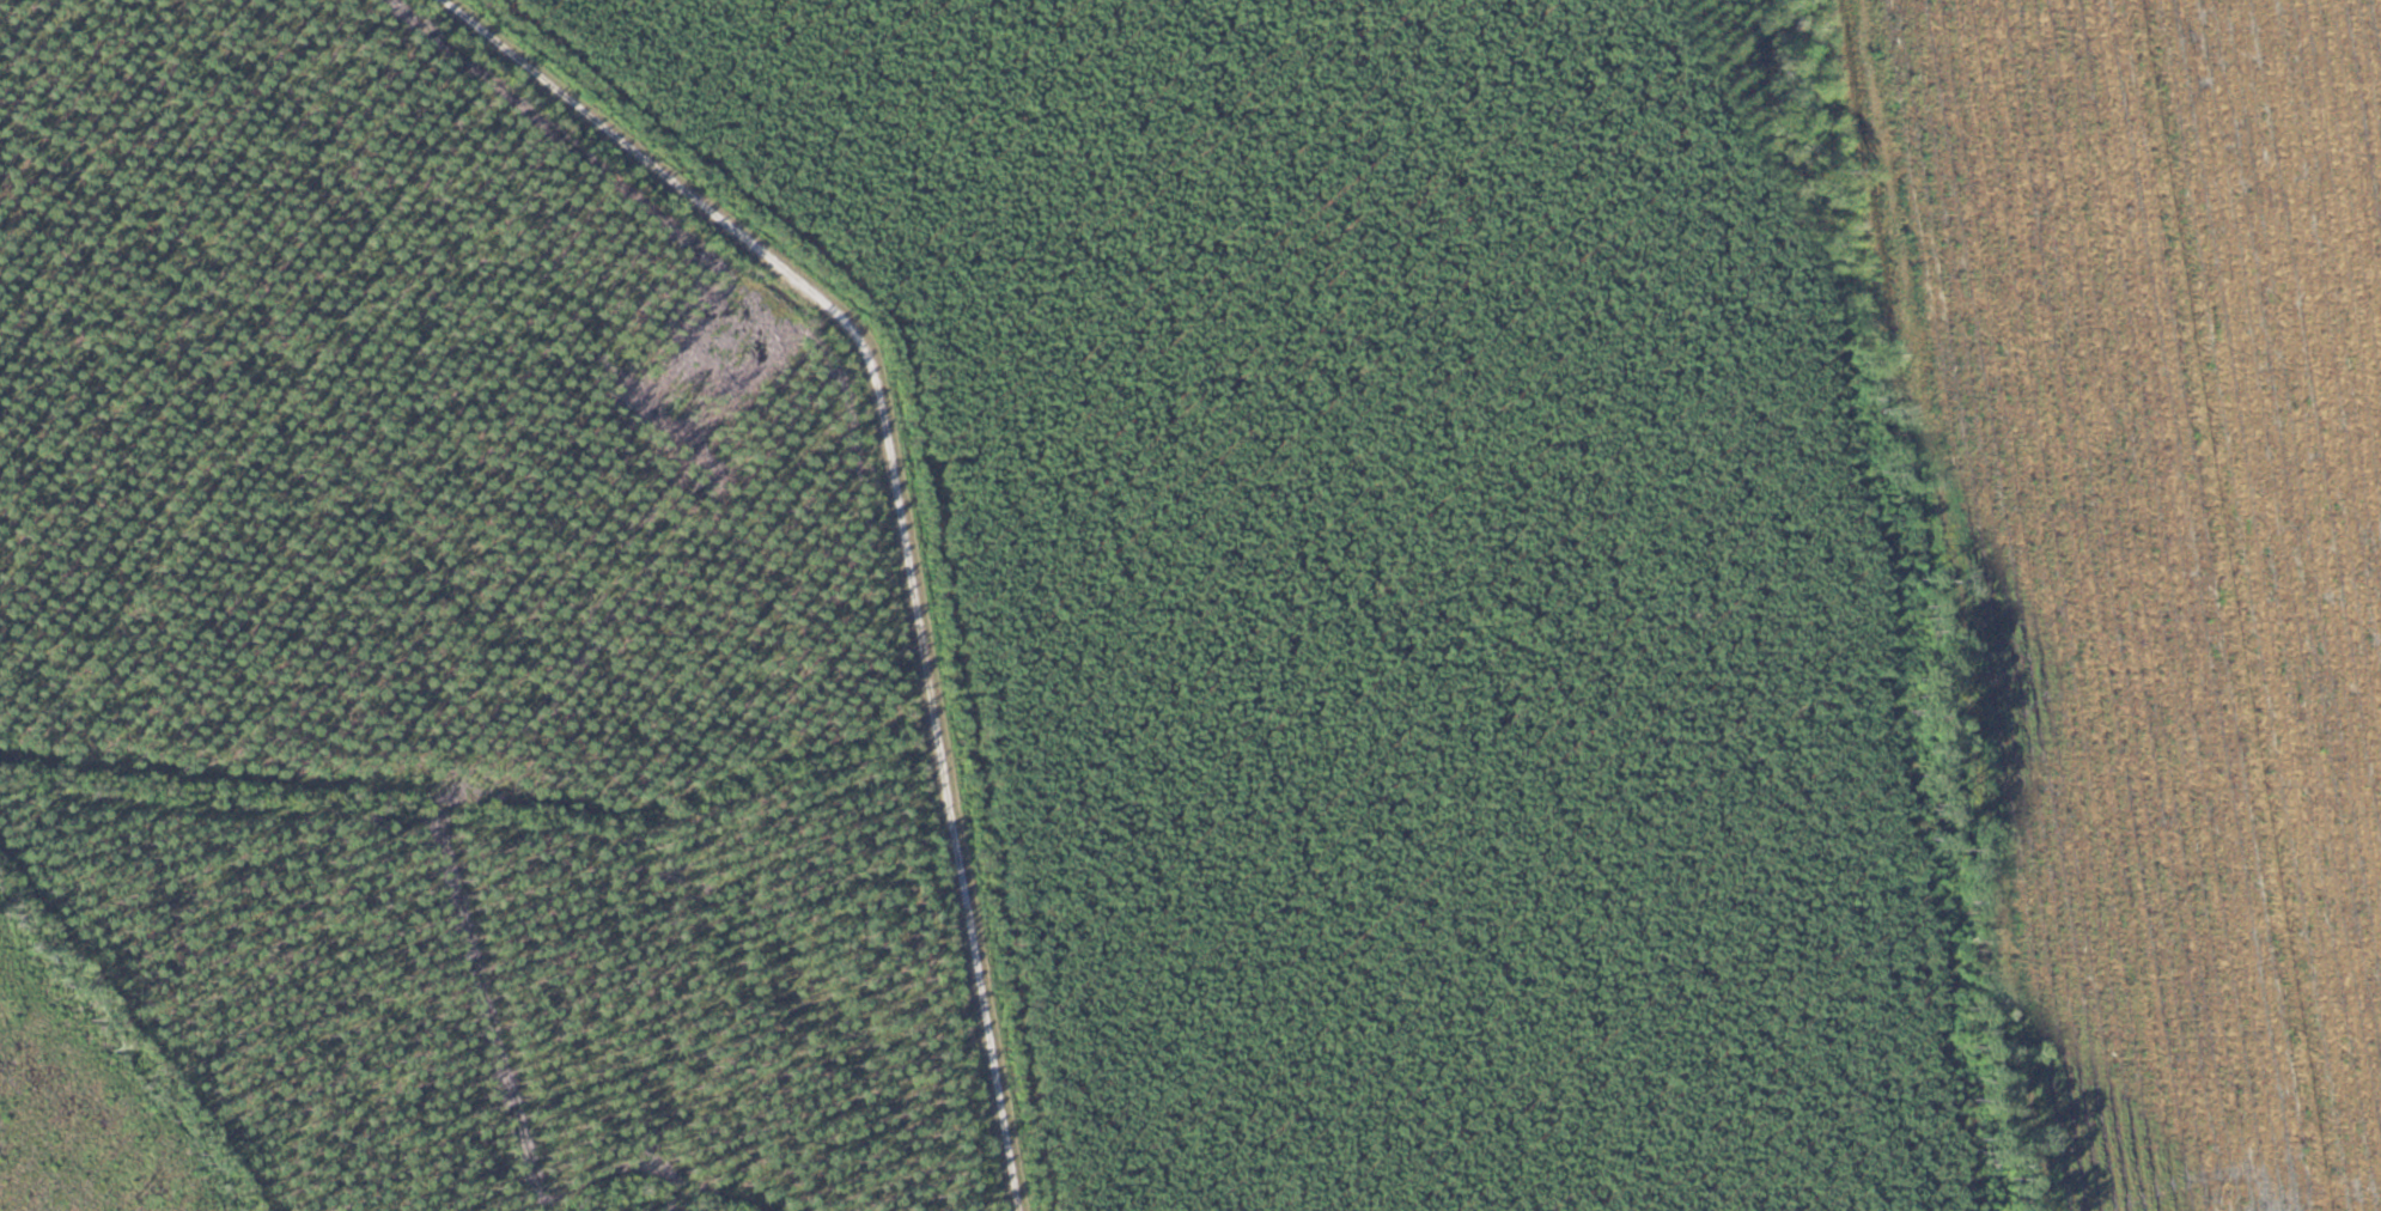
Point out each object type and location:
road: (909, 503)

